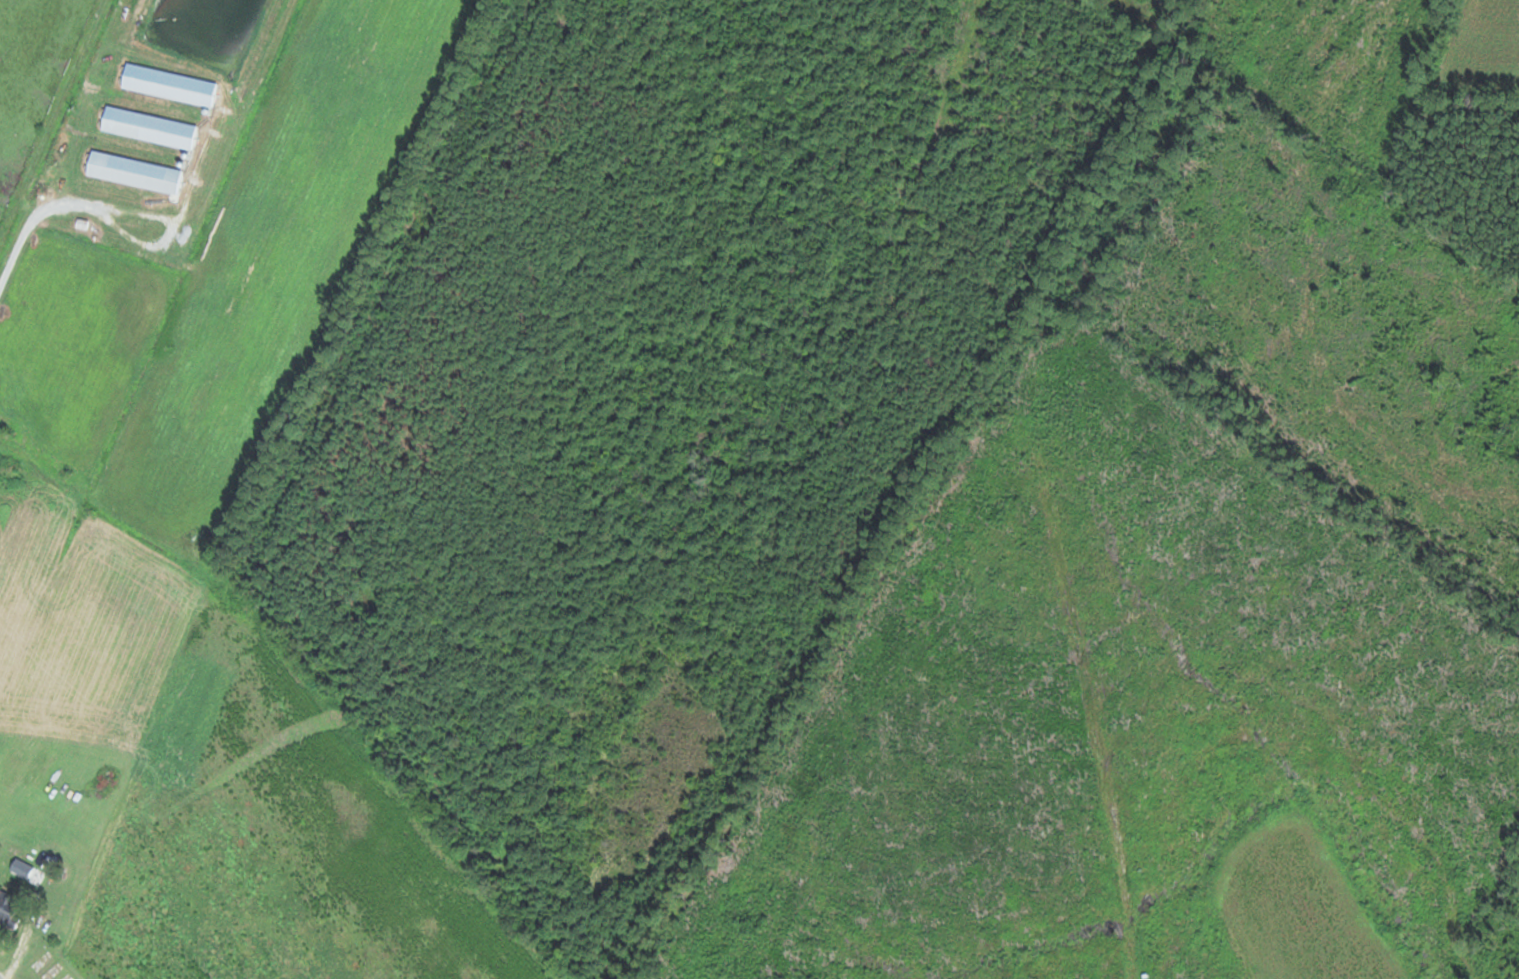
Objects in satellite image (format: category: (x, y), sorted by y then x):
building: (166, 86)
building: (146, 129)
building: (132, 173)
road: (158, 229)
building: (21, 869)
road: (49, 878)
building: (7, 907)

